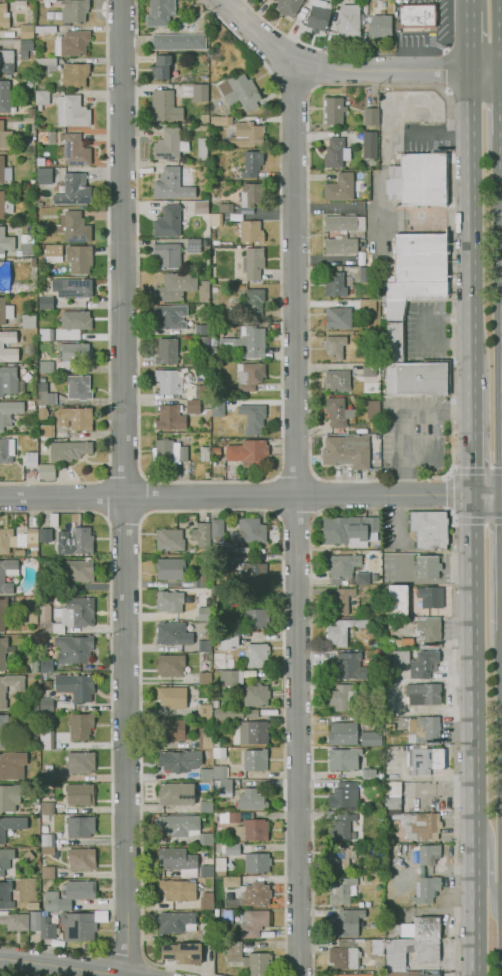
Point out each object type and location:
building: (275, 0)
building: (49, 1)
building: (340, 1)
building: (20, 5)
building: (329, 6)
road: (470, 6)
building: (288, 7)
building: (75, 11)
building: (160, 12)
building: (4, 15)
building: (418, 15)
building: (318, 16)
building: (349, 21)
building: (380, 28)
building: (45, 29)
building: (27, 31)
road: (501, 37)
building: (179, 41)
building: (72, 43)
road: (470, 44)
building: (25, 48)
road: (361, 54)
building: (203, 57)
building: (6, 62)
building: (47, 63)
building: (161, 67)
road: (444, 69)
road: (349, 70)
building: (75, 75)
building: (187, 79)
building: (28, 85)
road: (295, 88)
building: (240, 91)
building: (200, 93)
building: (6, 98)
building: (41, 98)
building: (165, 106)
building: (72, 111)
building: (334, 111)
building: (371, 116)
building: (205, 118)
building: (219, 120)
building: (246, 134)
building: (5, 136)
building: (169, 144)
building: (369, 144)
building: (33, 145)
building: (202, 149)
building: (73, 150)
building: (334, 152)
building: (252, 164)
building: (4, 171)
building: (44, 176)
building: (418, 179)
building: (33, 183)
building: (171, 185)
building: (340, 187)
building: (74, 190)
building: (251, 196)
building: (5, 205)
building: (226, 206)
building: (201, 207)
building: (235, 217)
building: (216, 219)
building: (168, 222)
building: (344, 223)
road: (471, 225)
building: (74, 227)
building: (250, 232)
building: (213, 235)
building: (5, 242)
building: (216, 242)
building: (205, 243)
building: (341, 244)
building: (26, 245)
building: (194, 245)
building: (167, 255)
building: (71, 257)
building: (420, 257)
building: (253, 263)
building: (9, 270)
building: (366, 271)
building: (203, 272)
building: (5, 279)
building: (336, 285)
building: (175, 286)
building: (72, 287)
building: (203, 290)
road: (107, 291)
building: (51, 303)
building: (254, 303)
building: (368, 305)
building: (199, 307)
building: (405, 309)
building: (5, 311)
building: (233, 311)
building: (170, 316)
building: (338, 318)
building: (76, 320)
building: (29, 321)
building: (199, 329)
building: (46, 334)
building: (367, 335)
building: (213, 339)
building: (204, 341)
building: (243, 343)
building: (1, 345)
building: (335, 346)
building: (166, 351)
building: (75, 353)
building: (33, 358)
building: (46, 367)
building: (369, 370)
building: (201, 375)
building: (250, 375)
building: (418, 377)
building: (338, 380)
building: (10, 381)
building: (168, 381)
building: (79, 387)
building: (202, 392)
building: (45, 394)
building: (244, 396)
building: (351, 397)
building: (362, 400)
building: (31, 405)
building: (193, 406)
building: (217, 408)
building: (373, 409)
building: (207, 411)
building: (9, 412)
building: (42, 412)
building: (337, 412)
building: (170, 417)
building: (76, 418)
building: (253, 418)
building: (45, 431)
road: (472, 435)
building: (45, 448)
building: (6, 450)
building: (68, 450)
building: (216, 451)
building: (347, 451)
building: (168, 452)
building: (249, 453)
building: (205, 454)
building: (31, 458)
building: (214, 462)
road: (452, 463)
building: (47, 471)
road: (296, 472)
road: (125, 475)
building: (21, 476)
building: (216, 477)
road: (224, 479)
road: (124, 487)
road: (317, 494)
road: (272, 495)
road: (100, 496)
road: (147, 496)
road: (236, 496)
traffic signals: (472, 496)
road: (487, 496)
road: (184, 510)
road: (383, 510)
building: (21, 517)
road: (125, 517)
road: (296, 517)
road: (296, 520)
building: (217, 529)
building: (429, 529)
building: (350, 530)
building: (250, 531)
building: (202, 534)
building: (32, 535)
building: (45, 535)
building: (170, 539)
building: (7, 540)
building: (75, 540)
building: (222, 547)
building: (192, 549)
building: (241, 549)
building: (19, 552)
building: (33, 553)
building: (225, 560)
building: (342, 567)
building: (427, 567)
building: (170, 569)
building: (80, 570)
building: (251, 573)
building: (8, 574)
building: (374, 577)
building: (362, 578)
building: (200, 581)
building: (431, 596)
building: (342, 600)
building: (170, 601)
building: (397, 601)
building: (3, 613)
building: (205, 614)
building: (67, 615)
building: (32, 617)
building: (256, 617)
building: (429, 628)
building: (343, 631)
building: (173, 634)
building: (229, 640)
building: (407, 642)
building: (204, 645)
building: (74, 648)
building: (4, 651)
building: (257, 655)
building: (397, 656)
building: (223, 660)
building: (424, 664)
building: (171, 665)
building: (34, 666)
building: (46, 666)
building: (350, 667)
building: (250, 673)
building: (231, 677)
building: (205, 678)
building: (76, 686)
building: (424, 693)
building: (2, 695)
building: (256, 695)
building: (173, 696)
building: (217, 696)
building: (342, 697)
building: (46, 705)
building: (35, 707)
building: (204, 710)
building: (251, 713)
building: (229, 714)
building: (81, 726)
building: (423, 729)
building: (170, 730)
building: (4, 731)
building: (251, 732)
building: (343, 733)
road: (111, 734)
road: (473, 735)
building: (47, 738)
building: (205, 738)
building: (371, 738)
building: (215, 742)
building: (219, 752)
building: (344, 759)
building: (179, 760)
building: (255, 760)
building: (427, 760)
building: (80, 762)
building: (12, 765)
building: (220, 772)
building: (369, 773)
building: (205, 774)
building: (48, 775)
building: (379, 776)
building: (223, 788)
building: (80, 794)
building: (176, 794)
building: (343, 795)
building: (9, 798)
building: (251, 800)
building: (392, 802)
building: (379, 805)
building: (206, 806)
building: (47, 808)
building: (418, 824)
building: (11, 825)
building: (80, 826)
building: (245, 826)
building: (183, 827)
building: (342, 827)
building: (45, 829)
building: (47, 839)
building: (413, 846)
building: (231, 849)
building: (47, 850)
building: (429, 854)
building: (28, 856)
building: (343, 857)
building: (5, 859)
building: (82, 859)
road: (490, 860)
building: (257, 862)
building: (183, 863)
building: (220, 864)
building: (48, 872)
building: (231, 881)
building: (342, 889)
building: (427, 889)
building: (178, 890)
building: (256, 894)
building: (7, 895)
building: (69, 895)
building: (206, 900)
building: (360, 904)
building: (368, 904)
building: (32, 905)
building: (216, 912)
building: (227, 917)
building: (15, 921)
building: (35, 921)
building: (176, 922)
building: (253, 922)
building: (345, 922)
building: (47, 927)
building: (79, 927)
building: (427, 927)
building: (204, 932)
building: (419, 948)
building: (376, 951)
road: (125, 952)
building: (182, 952)
building: (345, 953)
building: (250, 959)
road: (63, 967)
building: (407, 973)
building: (353, 974)
building: (381, 974)

